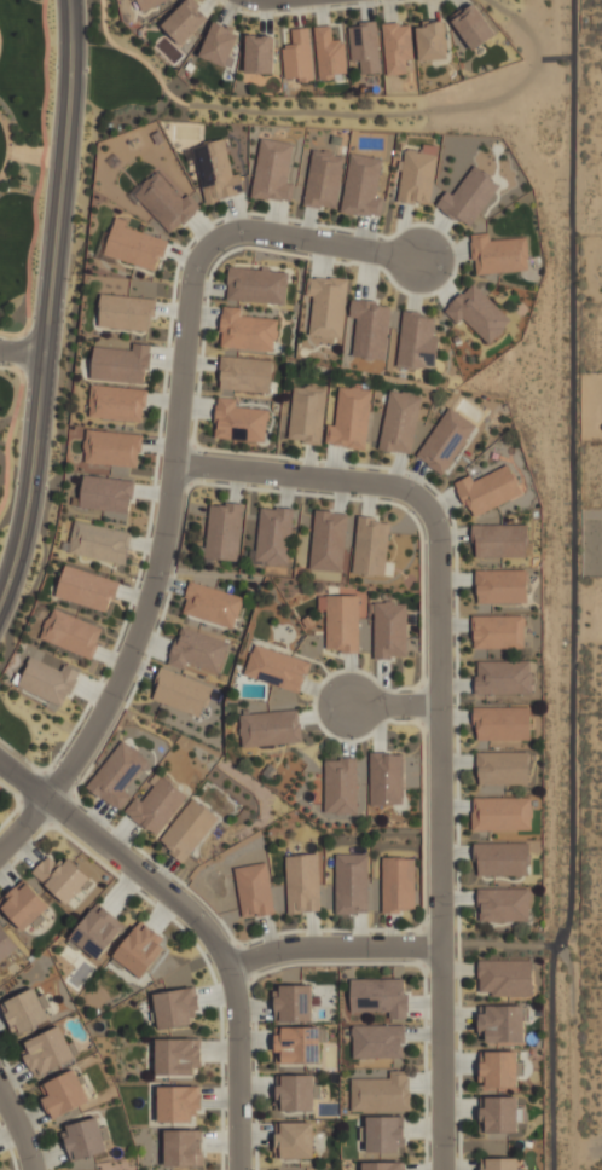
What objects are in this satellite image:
building: (147, 4)
building: (184, 21)
building: (473, 27)
building: (432, 42)
building: (219, 45)
building: (364, 46)
building: (395, 47)
building: (329, 53)
building: (259, 54)
building: (297, 56)
street lamp: (53, 114)
park: (22, 152)
building: (272, 169)
building: (215, 172)
building: (416, 175)
building: (323, 179)
building: (361, 186)
building: (468, 197)
building: (163, 202)
building: (133, 245)
road: (208, 248)
street lamp: (225, 251)
building: (498, 254)
street lamp: (453, 274)
building: (256, 285)
road: (50, 305)
building: (326, 306)
building: (126, 312)
building: (477, 313)
building: (369, 329)
building: (245, 331)
building: (417, 341)
road: (22, 352)
building: (120, 361)
building: (244, 373)
building: (116, 402)
building: (306, 415)
building: (349, 418)
building: (239, 422)
building: (399, 422)
building: (445, 440)
building: (111, 447)
street lamp: (206, 453)
building: (488, 490)
building: (105, 493)
street lamp: (413, 512)
building: (224, 532)
building: (273, 537)
building: (500, 540)
building: (329, 541)
building: (99, 543)
building: (370, 546)
street lamp: (141, 579)
building: (500, 586)
building: (86, 589)
building: (212, 604)
building: (342, 621)
building: (389, 630)
building: (498, 631)
building: (70, 632)
building: (198, 650)
street lamp: (145, 655)
building: (276, 668)
road: (123, 673)
building: (503, 677)
building: (48, 680)
building: (180, 693)
road: (395, 706)
road: (441, 706)
street lamp: (410, 719)
building: (502, 723)
building: (270, 728)
street lamp: (64, 753)
building: (502, 768)
building: (116, 775)
building: (386, 778)
building: (340, 786)
building: (155, 806)
building: (500, 813)
building: (186, 829)
building: (502, 858)
building: (62, 879)
building: (302, 884)
building: (351, 884)
building: (398, 884)
building: (253, 890)
building: (504, 904)
building: (25, 908)
road: (197, 923)
building: (97, 932)
building: (6, 944)
street lamp: (251, 945)
road: (334, 946)
building: (140, 950)
building: (505, 977)
building: (378, 996)
building: (293, 1002)
building: (175, 1007)
building: (27, 1010)
building: (502, 1023)
building: (377, 1041)
building: (297, 1044)
building: (48, 1050)
building: (176, 1056)
building: (498, 1068)
building: (380, 1093)
building: (64, 1094)
building: (178, 1104)
building: (498, 1114)
road: (21, 1124)
building: (384, 1134)
building: (86, 1137)
building: (294, 1140)
street lamp: (457, 1140)
building: (183, 1147)
building: (499, 1164)
building: (383, 1165)
street lamp: (254, 1169)

